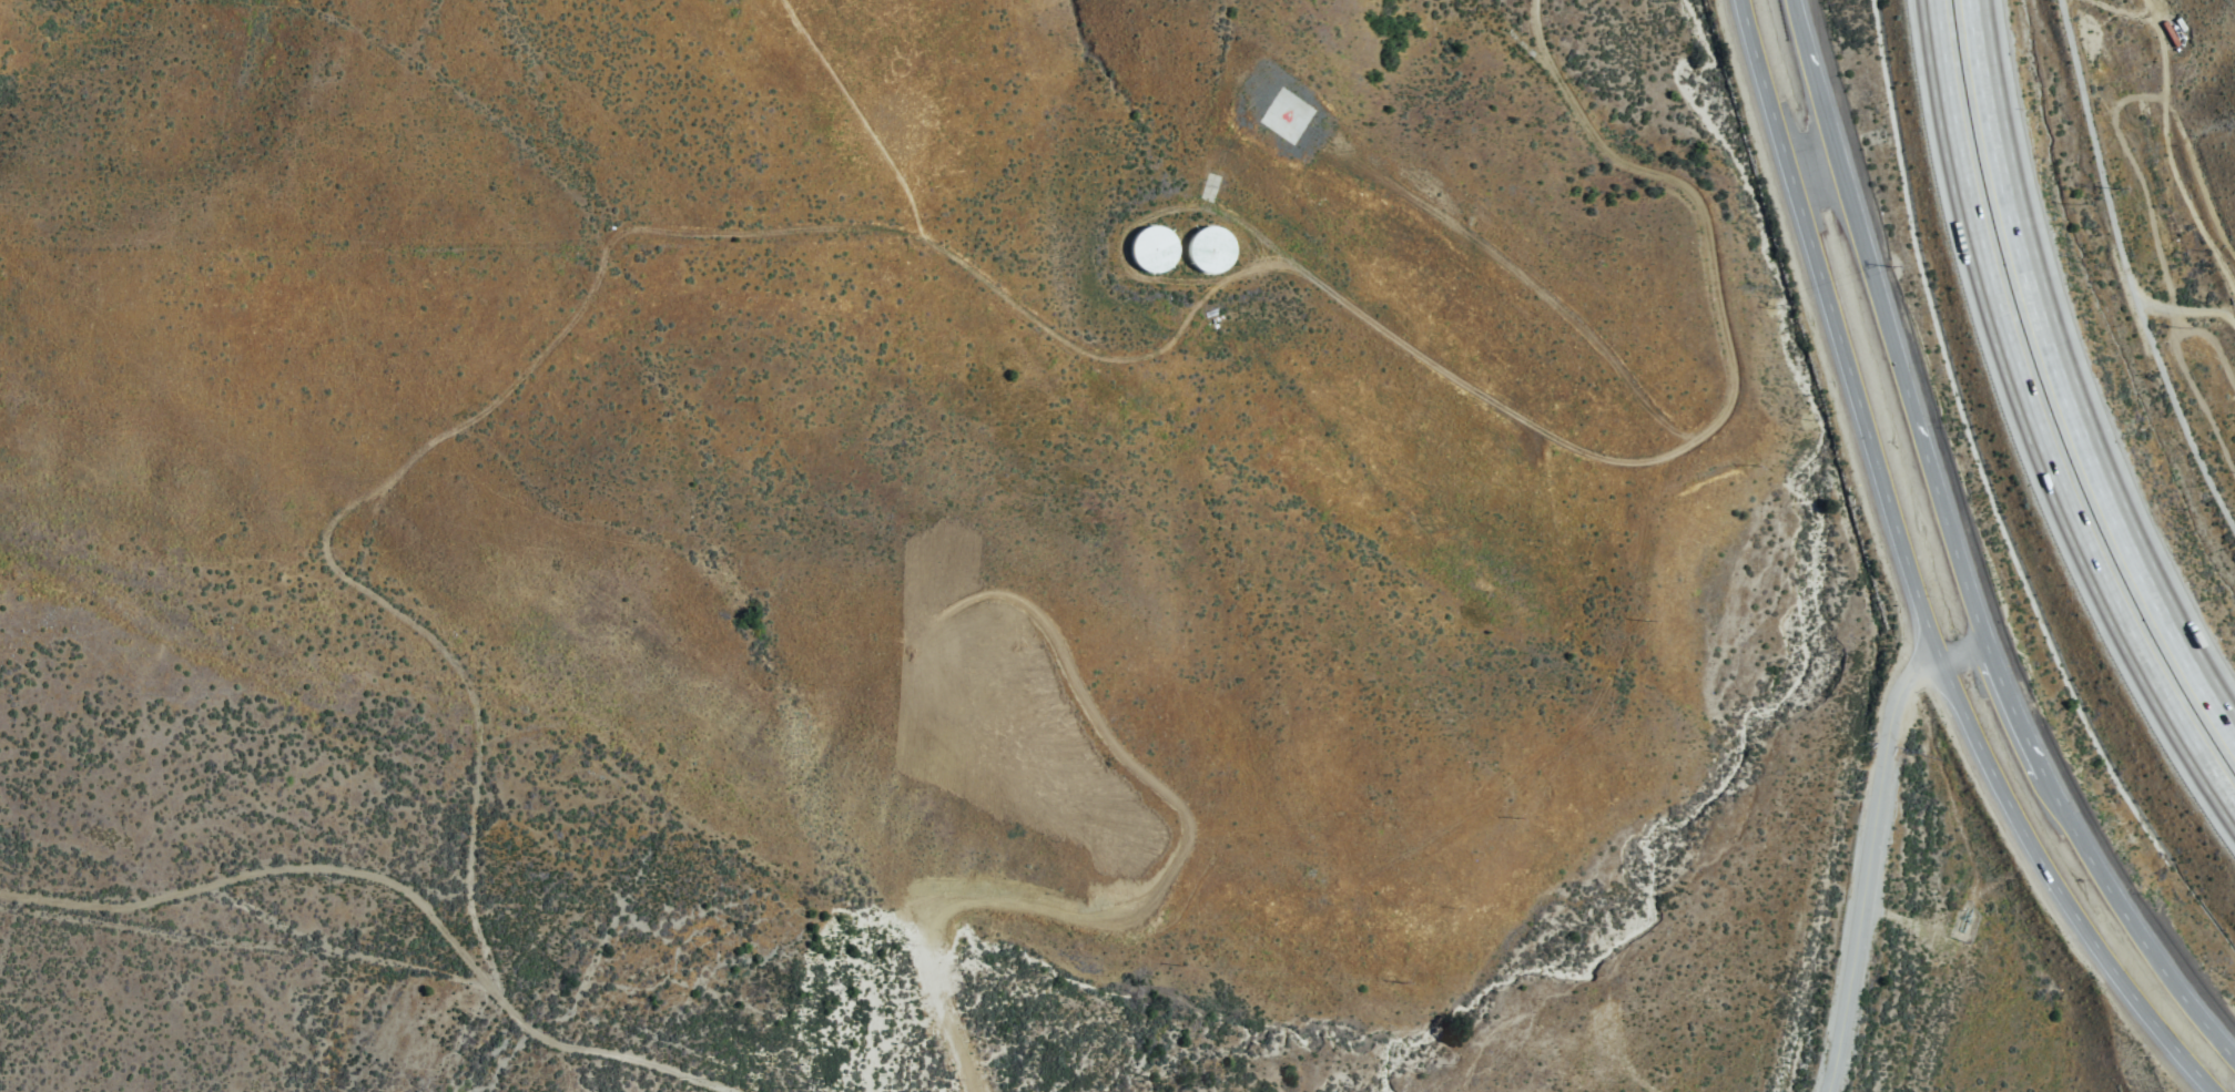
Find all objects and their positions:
helipad: (1286, 115)
road: (1121, 242)
building: (1152, 248)
building: (1211, 249)
road: (2126, 274)
road: (1521, 278)
road: (541, 355)
road: (2068, 379)
road: (1720, 412)
road: (2034, 426)
road: (1959, 554)
road: (1914, 576)
road: (1869, 840)
road: (394, 889)

